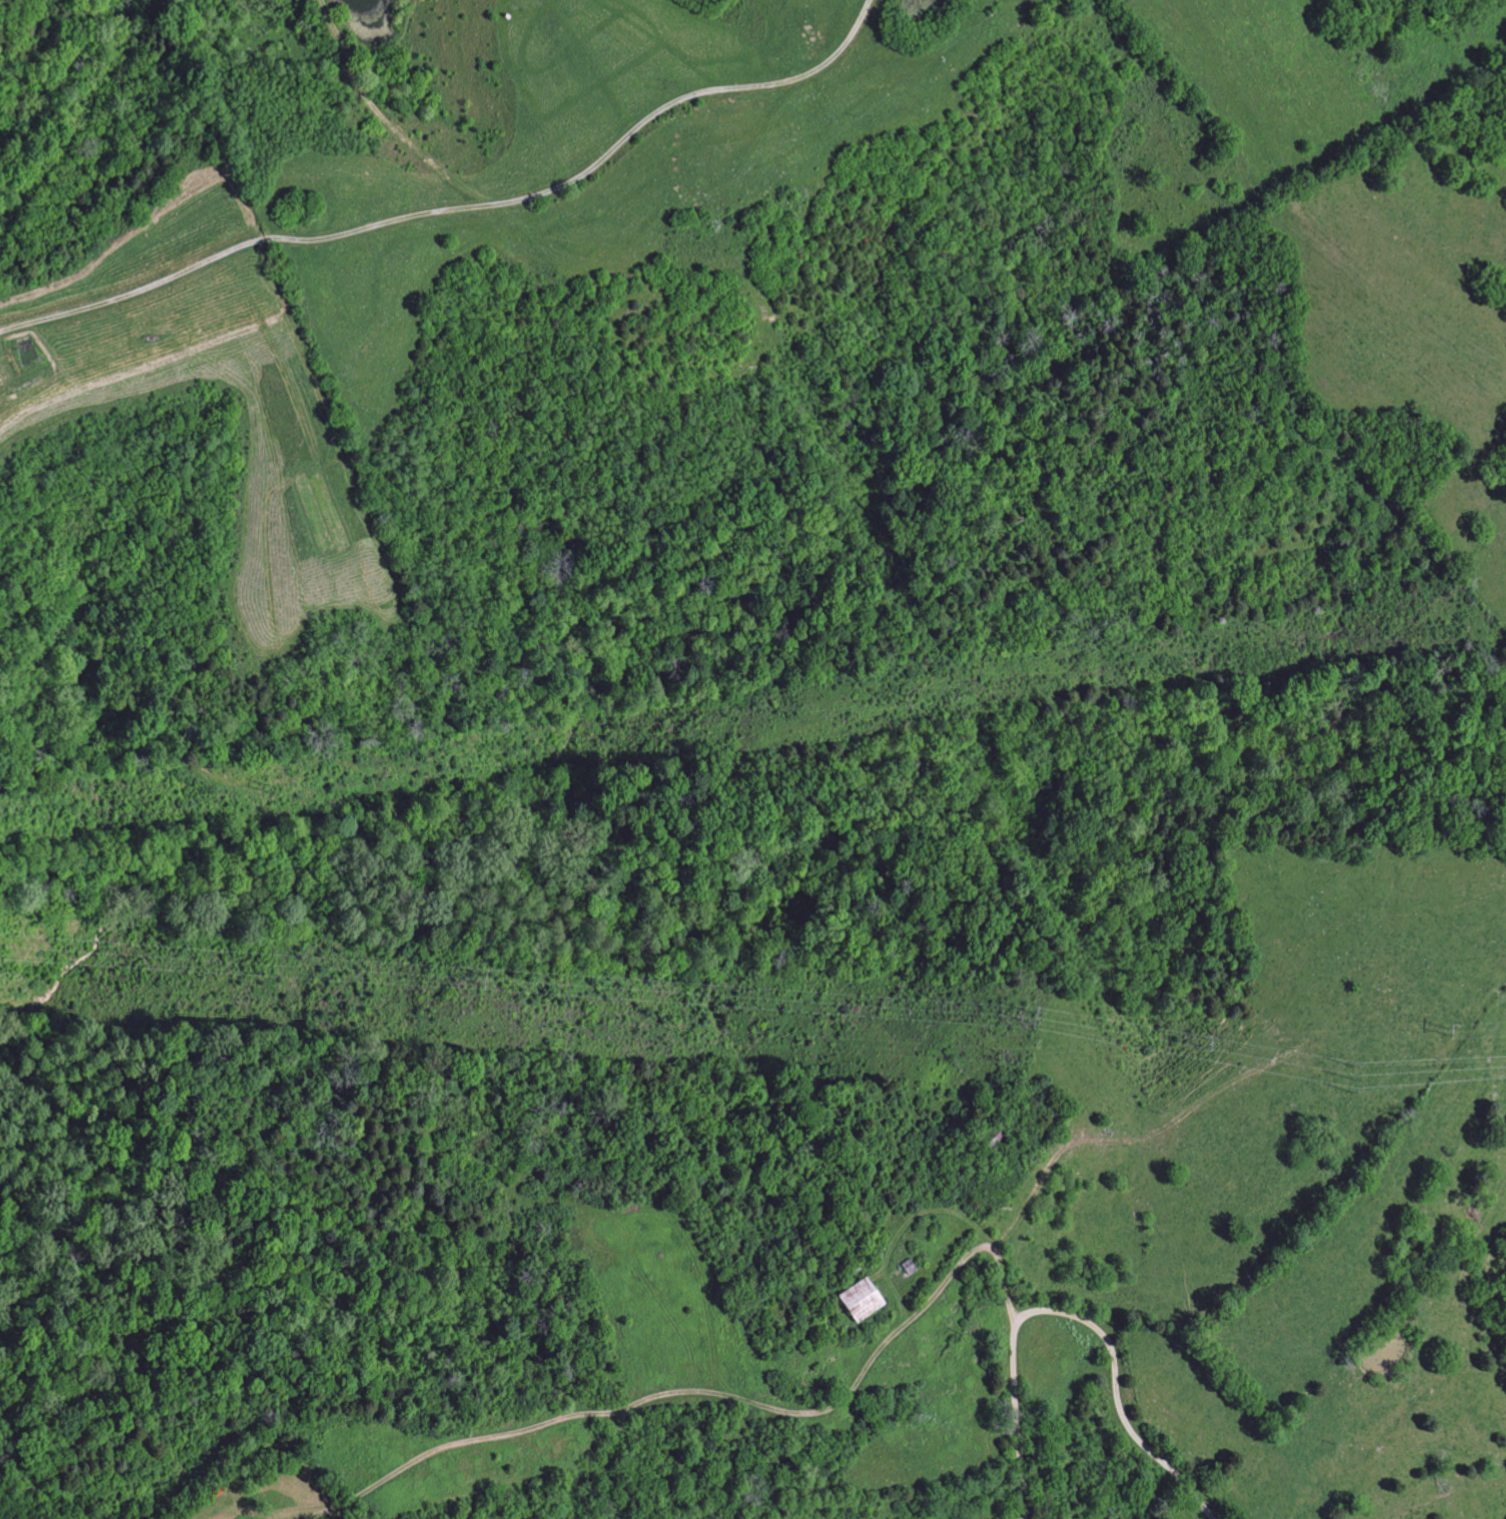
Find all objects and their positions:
road: (824, 61)
road: (385, 223)
power tower: (1288, 640)
power tower: (896, 695)
power tower: (259, 785)
power tower: (480, 977)
power tower: (1027, 1011)
power tower: (434, 1014)
power tower: (1443, 1025)
power tower: (1206, 1038)
power tower: (998, 1053)
power tower: (1348, 1074)
building: (860, 1301)
road: (1070, 1315)

